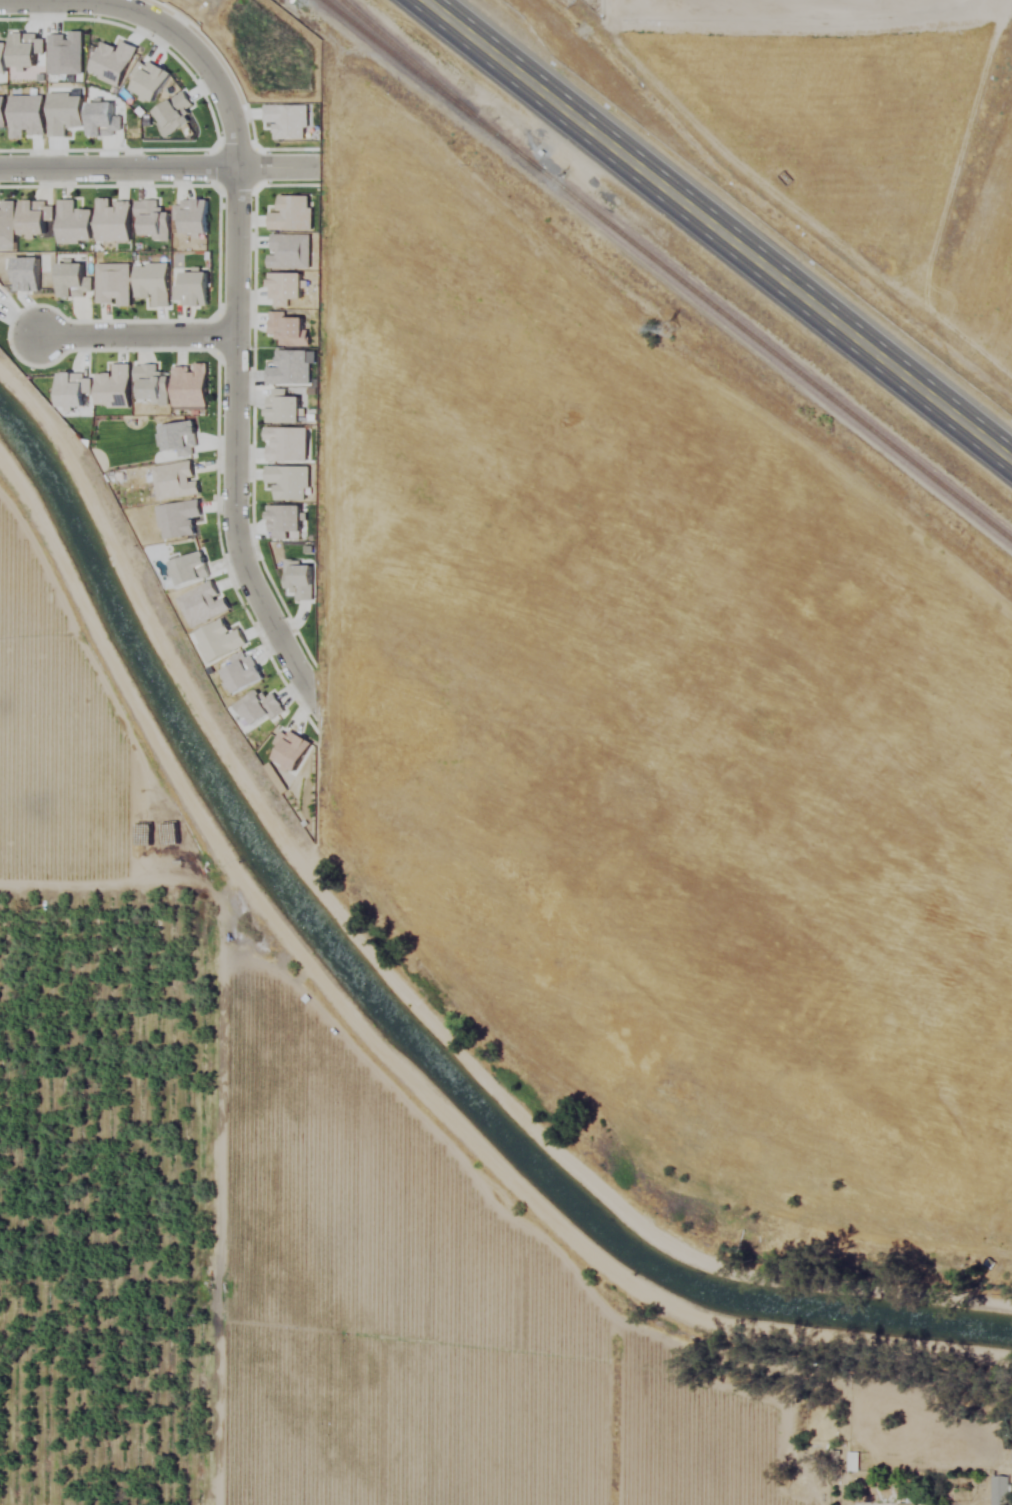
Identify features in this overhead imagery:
railway: (420, 76)
railway: (429, 76)
road: (159, 172)
road: (718, 230)
road: (236, 271)
power tower: (677, 321)
road: (137, 337)
railway: (765, 346)
crop: (611, 929)
building: (853, 1462)
building: (1000, 1491)

